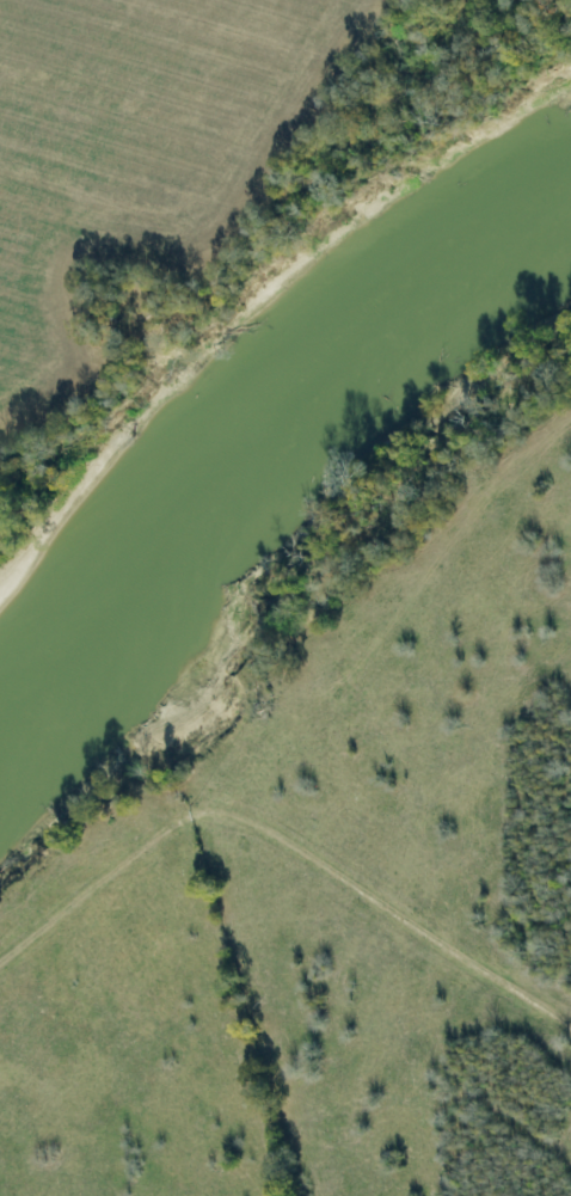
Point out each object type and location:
river: (253, 404)

